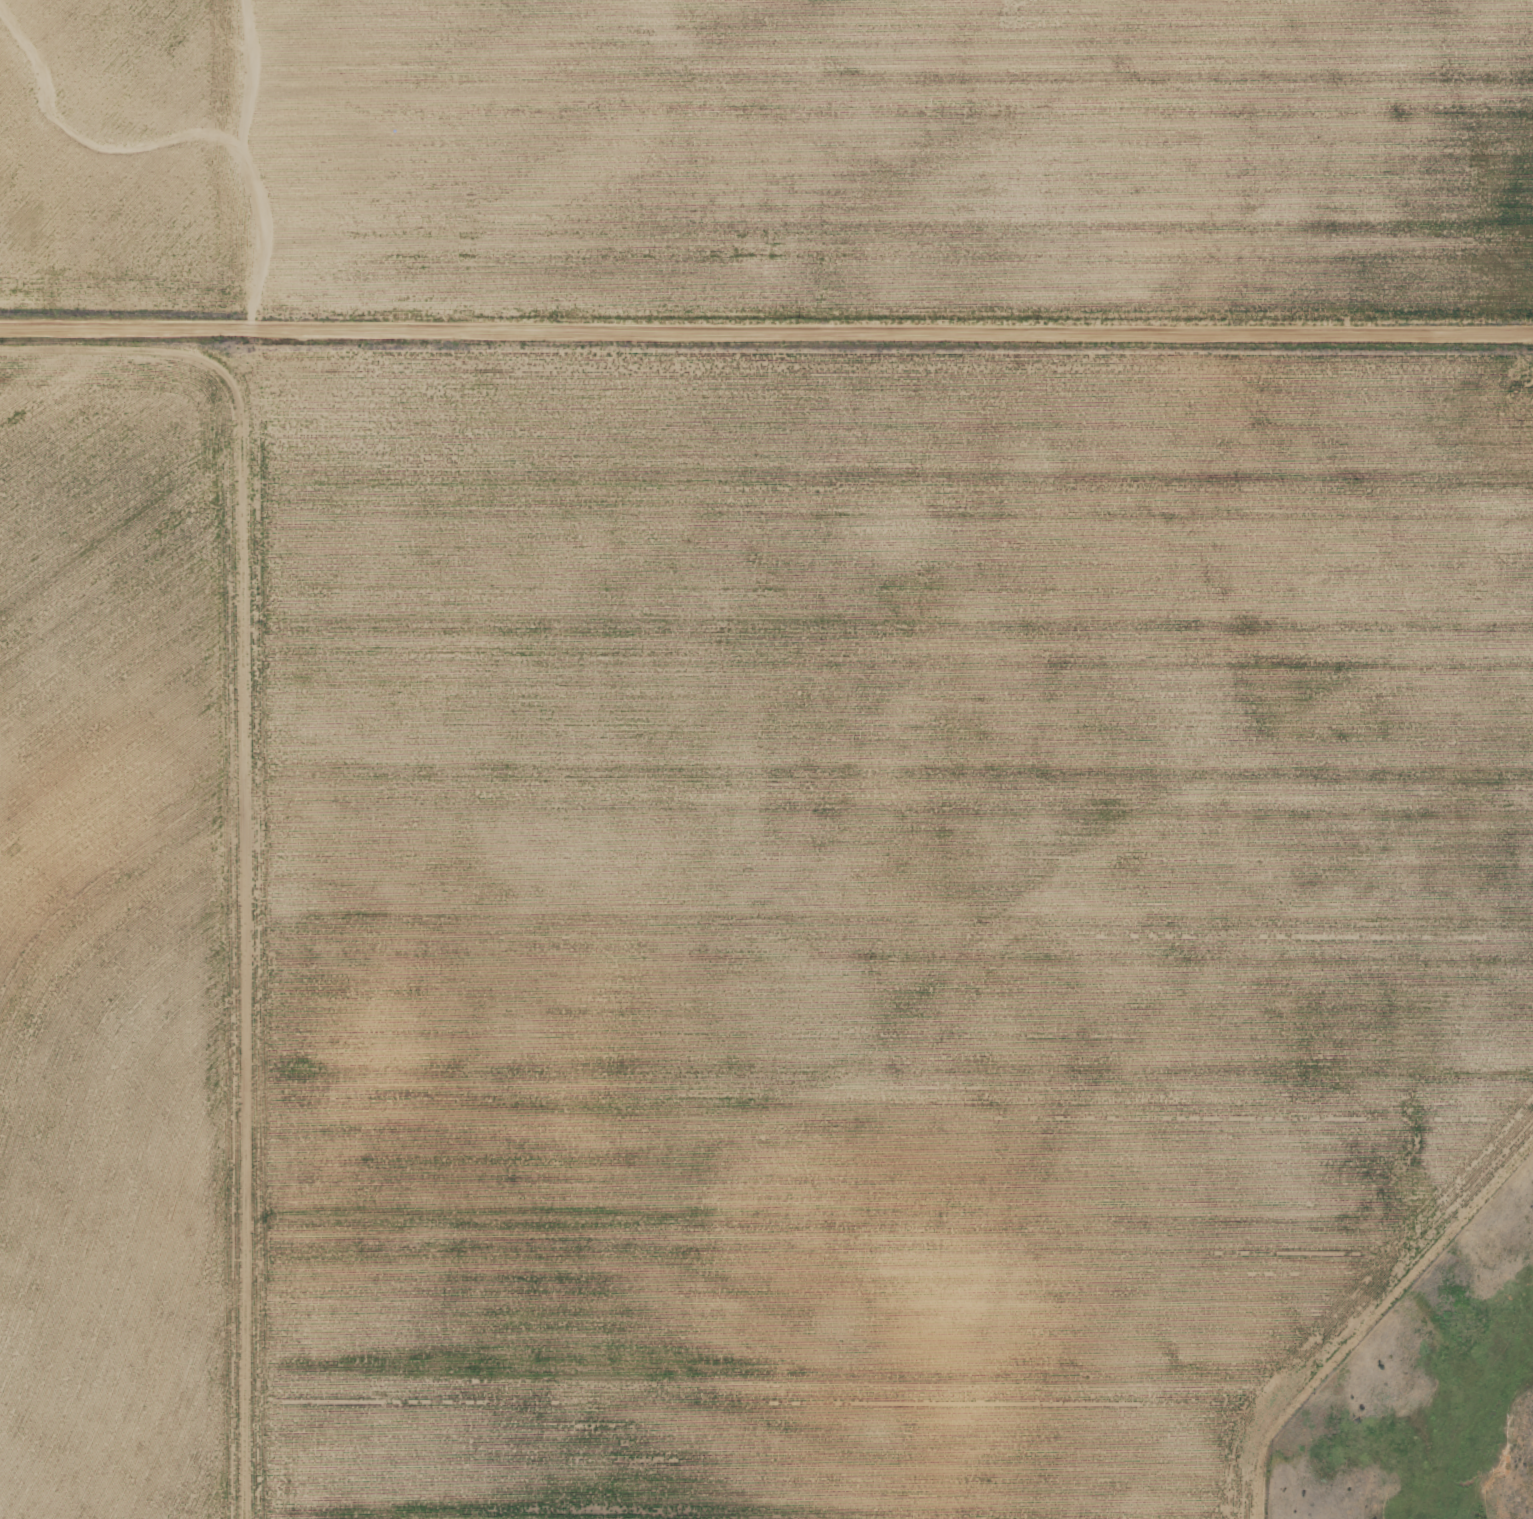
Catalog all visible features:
road: (766, 327)

